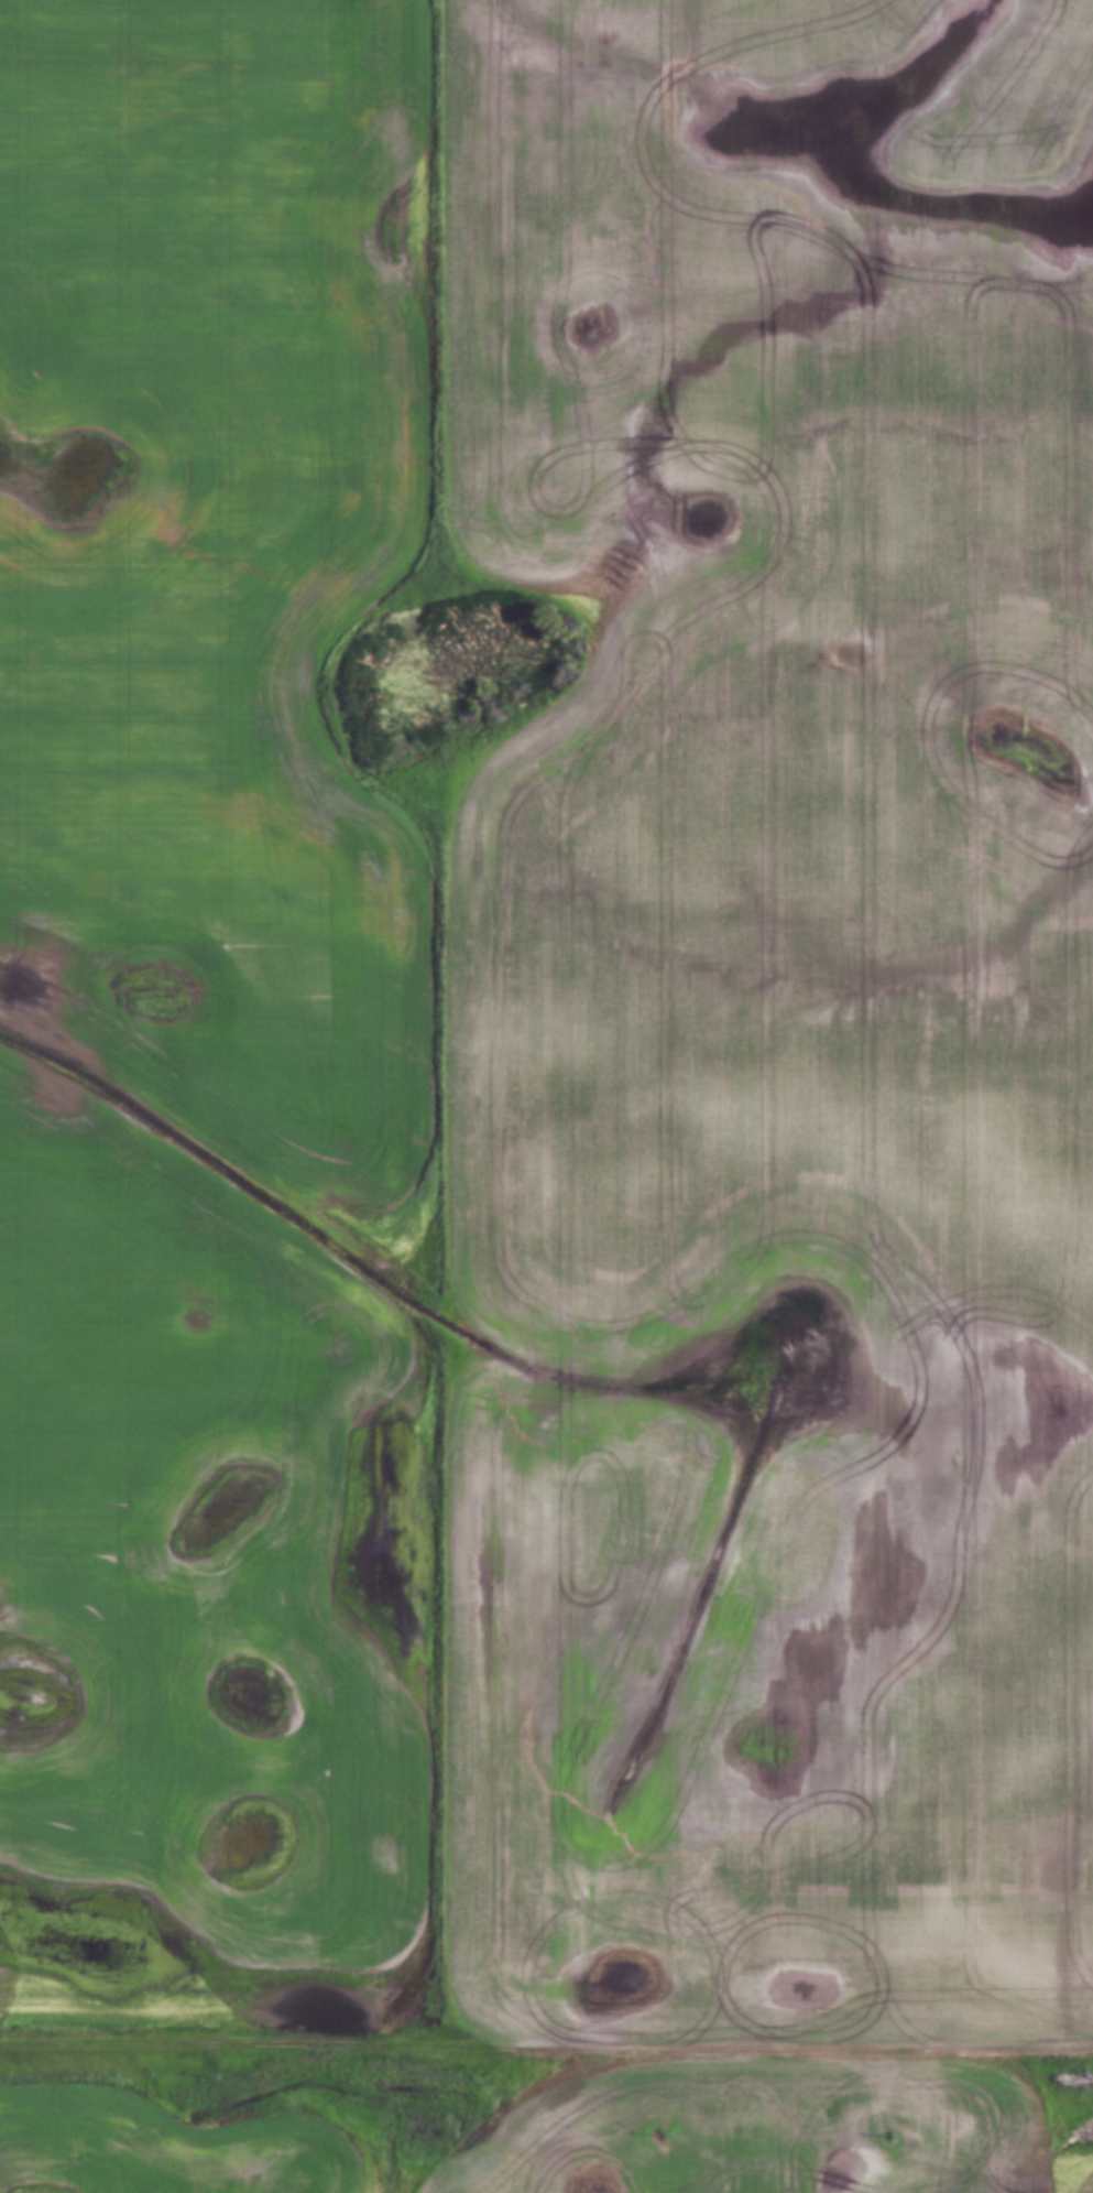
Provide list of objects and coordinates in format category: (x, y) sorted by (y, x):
road: (546, 2044)

